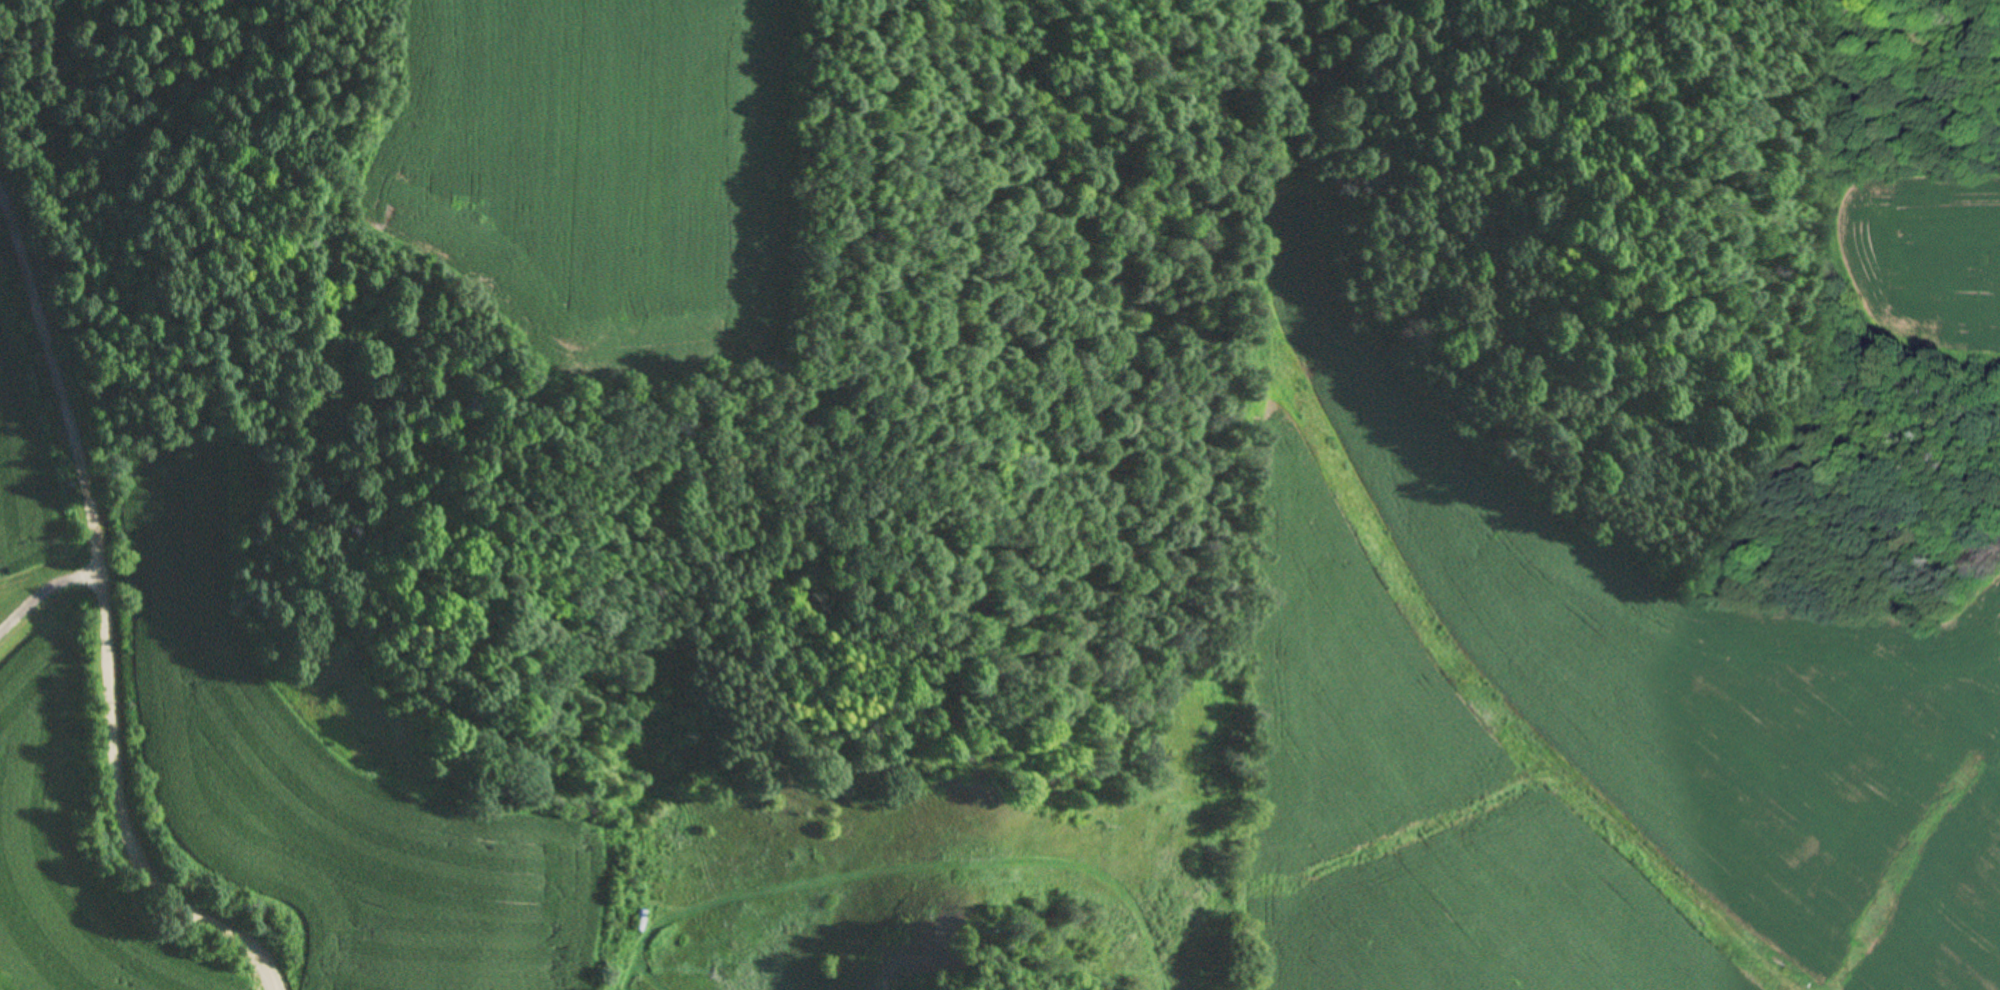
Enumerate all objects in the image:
crop: (584, 165)
road: (44, 594)
road: (102, 618)
building: (642, 922)

